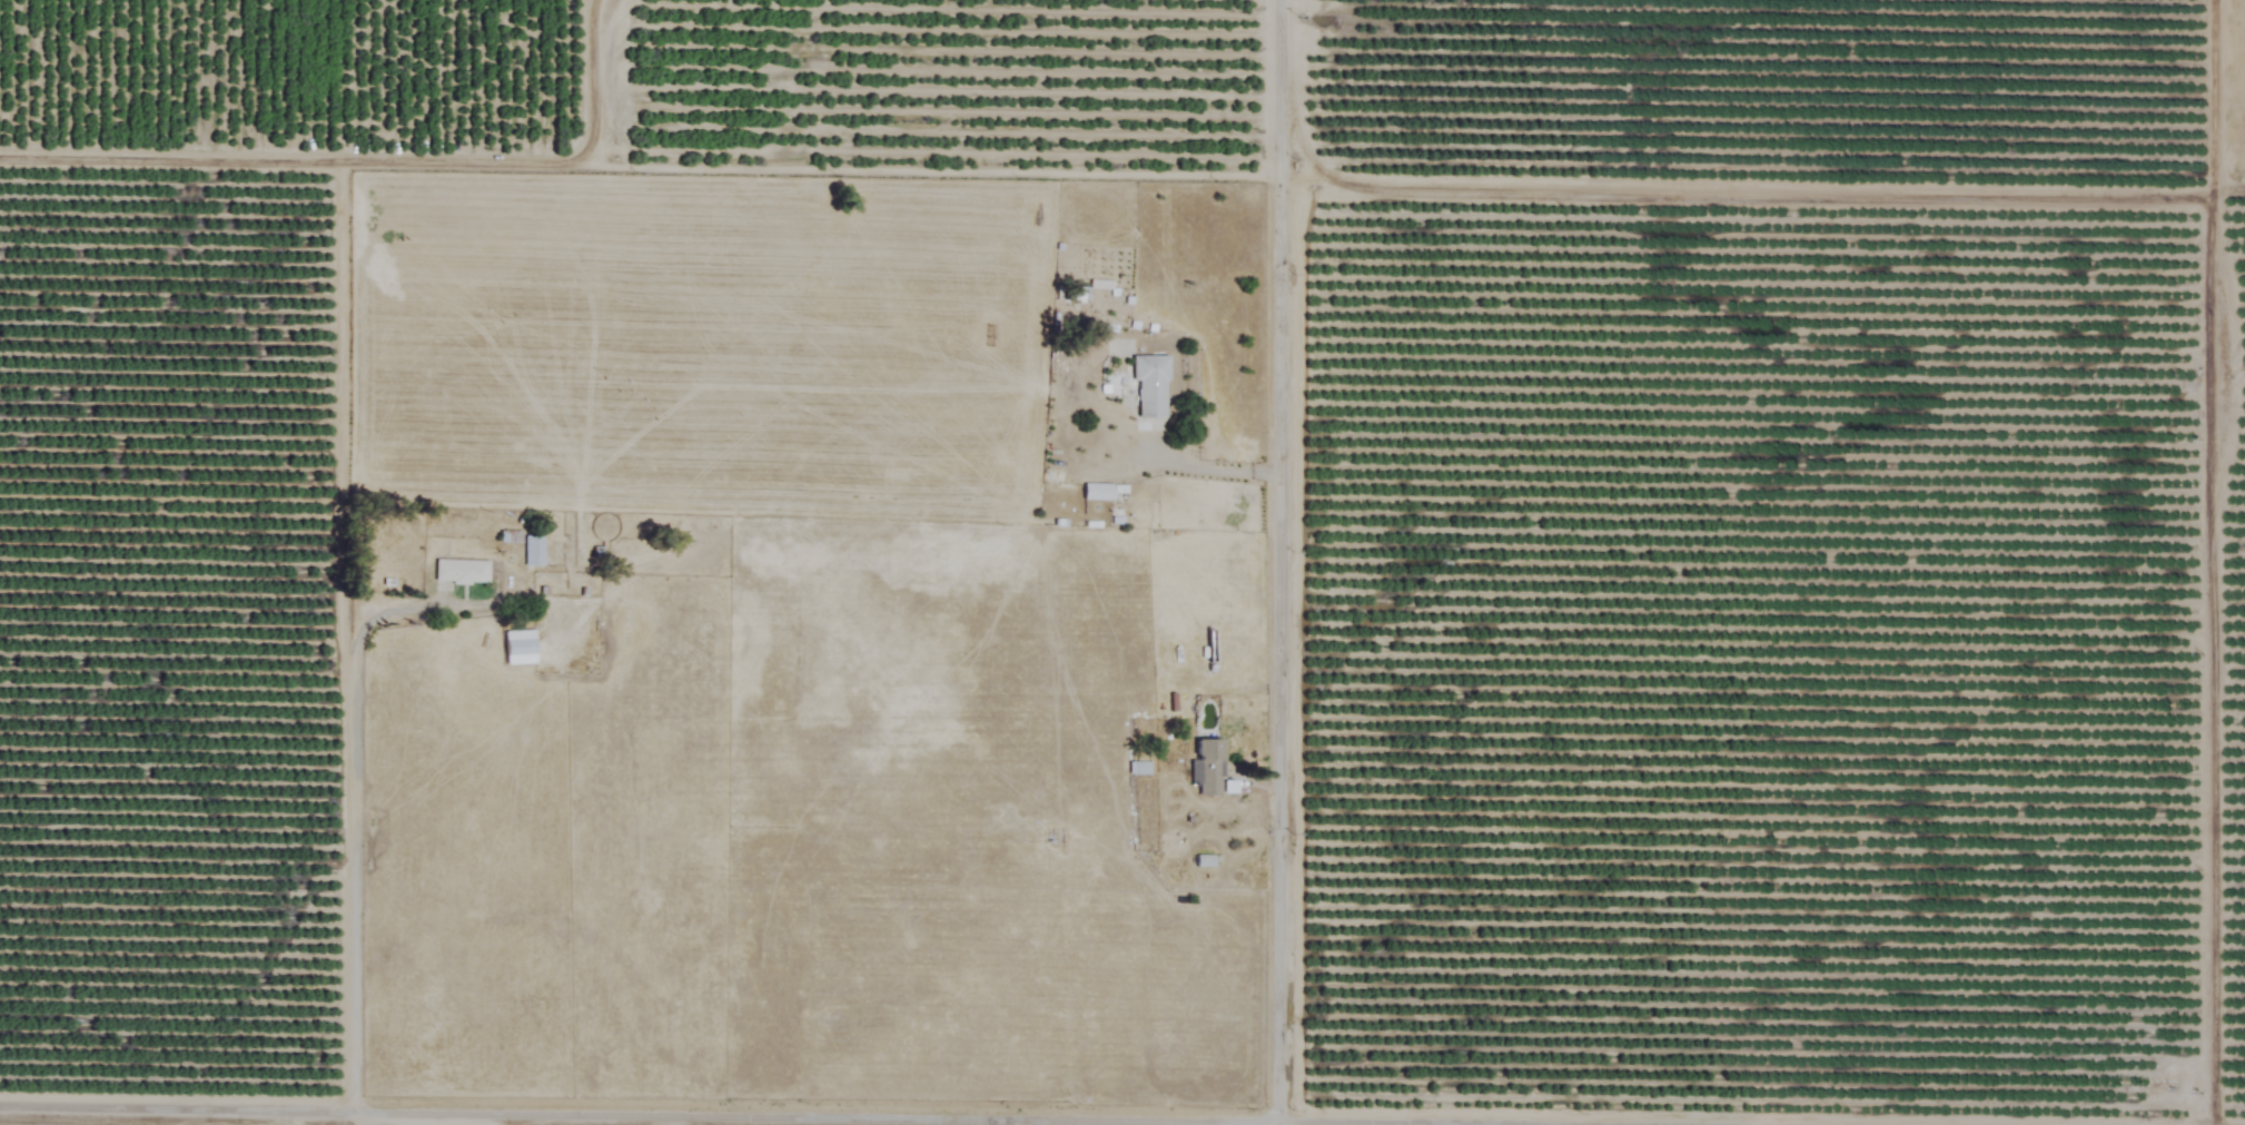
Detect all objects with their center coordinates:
road: (596, 83)
road: (296, 159)
building: (1078, 295)
building: (1149, 388)
building: (1098, 492)
building: (365, 549)
building: (533, 551)
road: (1279, 562)
building: (462, 572)
crop: (1769, 640)
building: (518, 649)
building: (1207, 767)
road: (356, 792)
road: (844, 1111)

